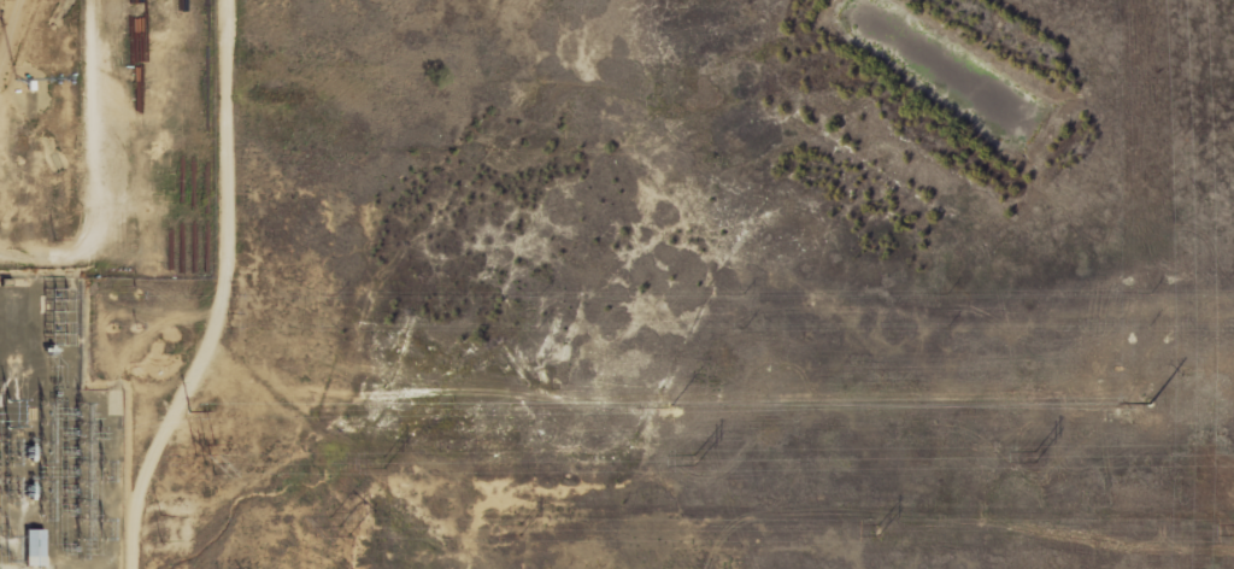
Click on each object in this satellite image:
road: (104, 142)
road: (229, 256)
power substation: (55, 436)
power tower: (1034, 458)
power tower: (692, 461)
power tower: (383, 463)
power tower: (208, 469)
power tower: (336, 527)
power tower: (521, 529)
power tower: (879, 529)
building: (33, 547)

